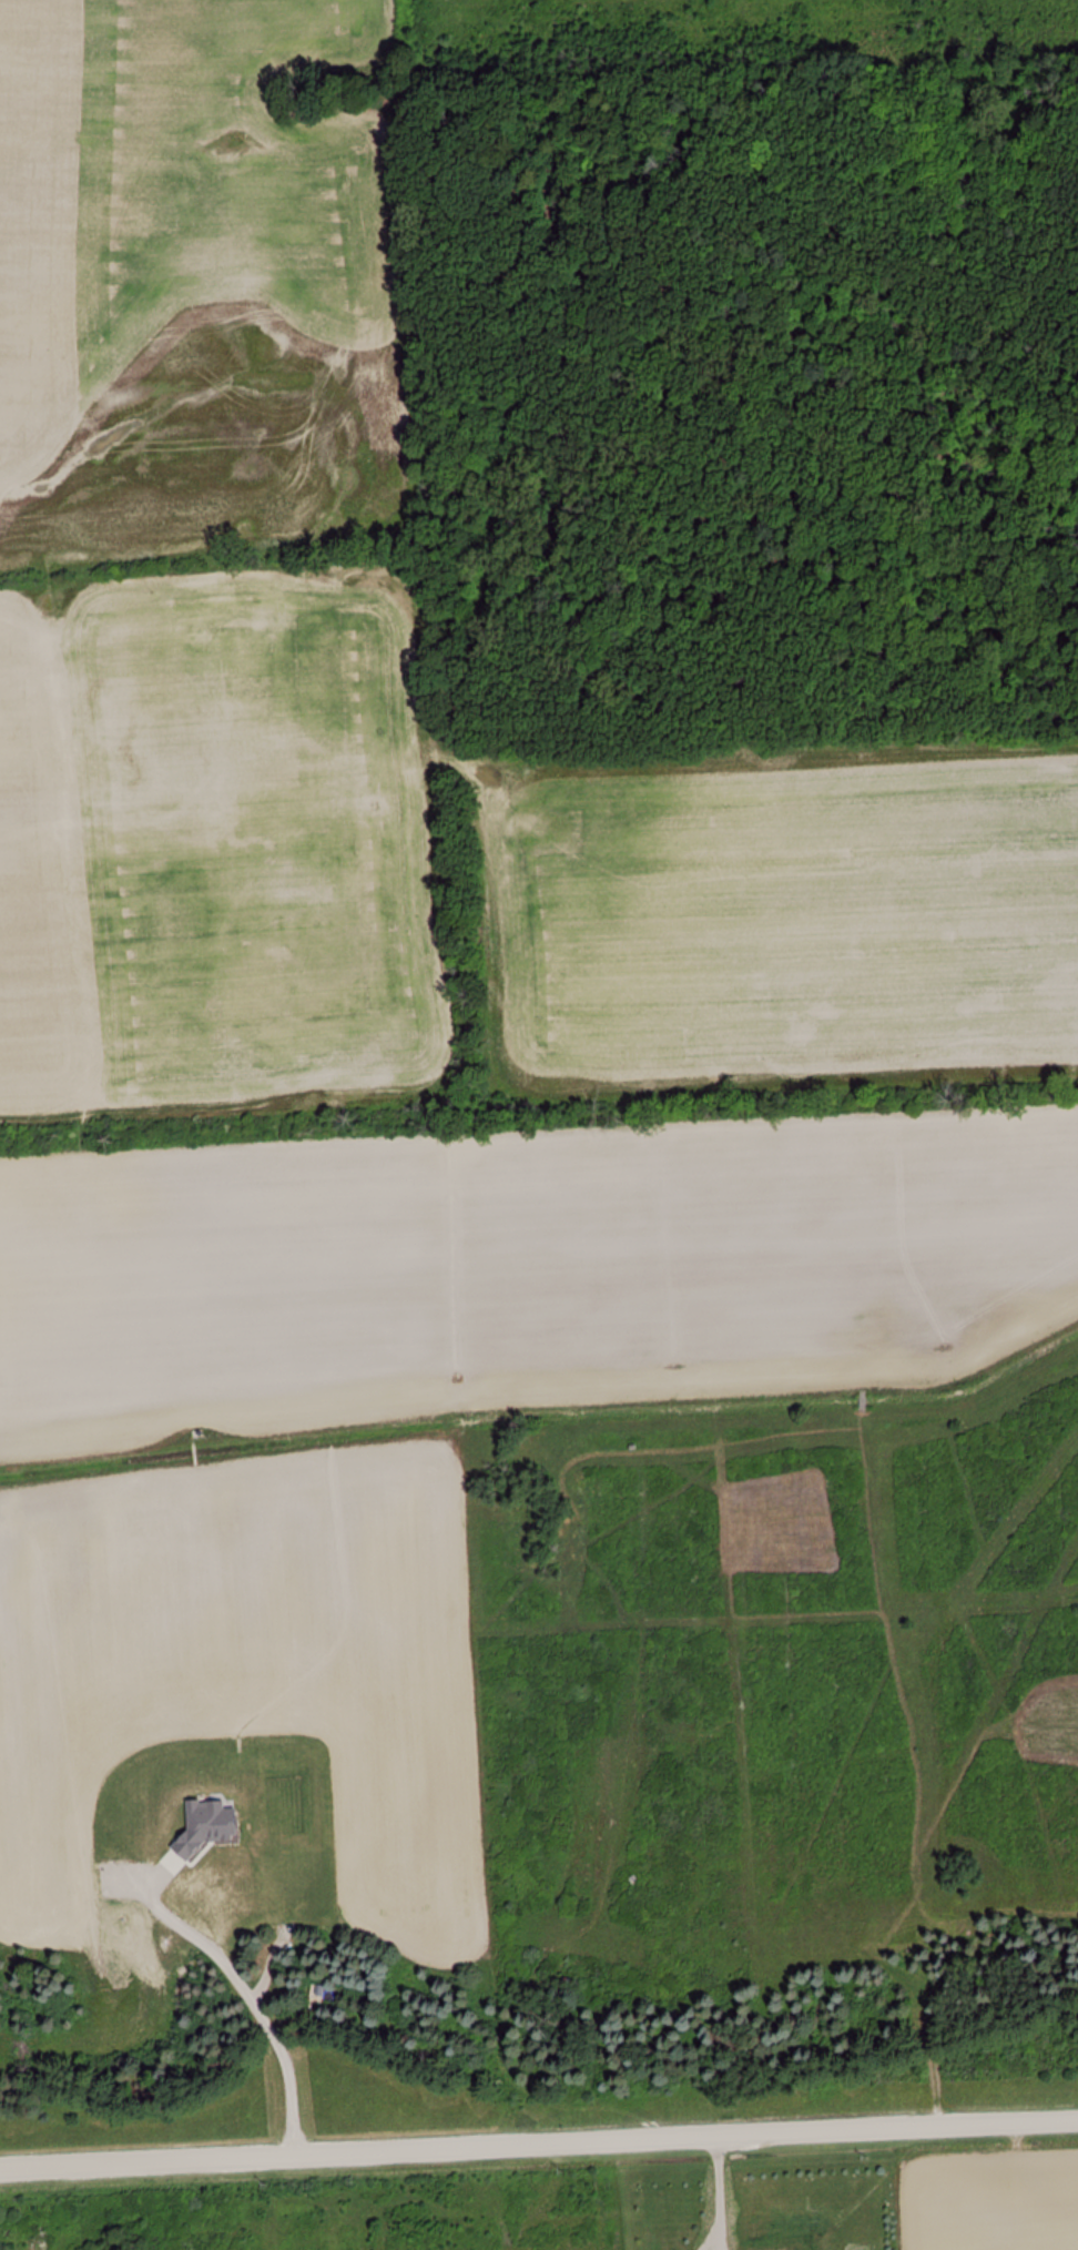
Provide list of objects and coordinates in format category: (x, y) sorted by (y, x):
road: (539, 2148)

